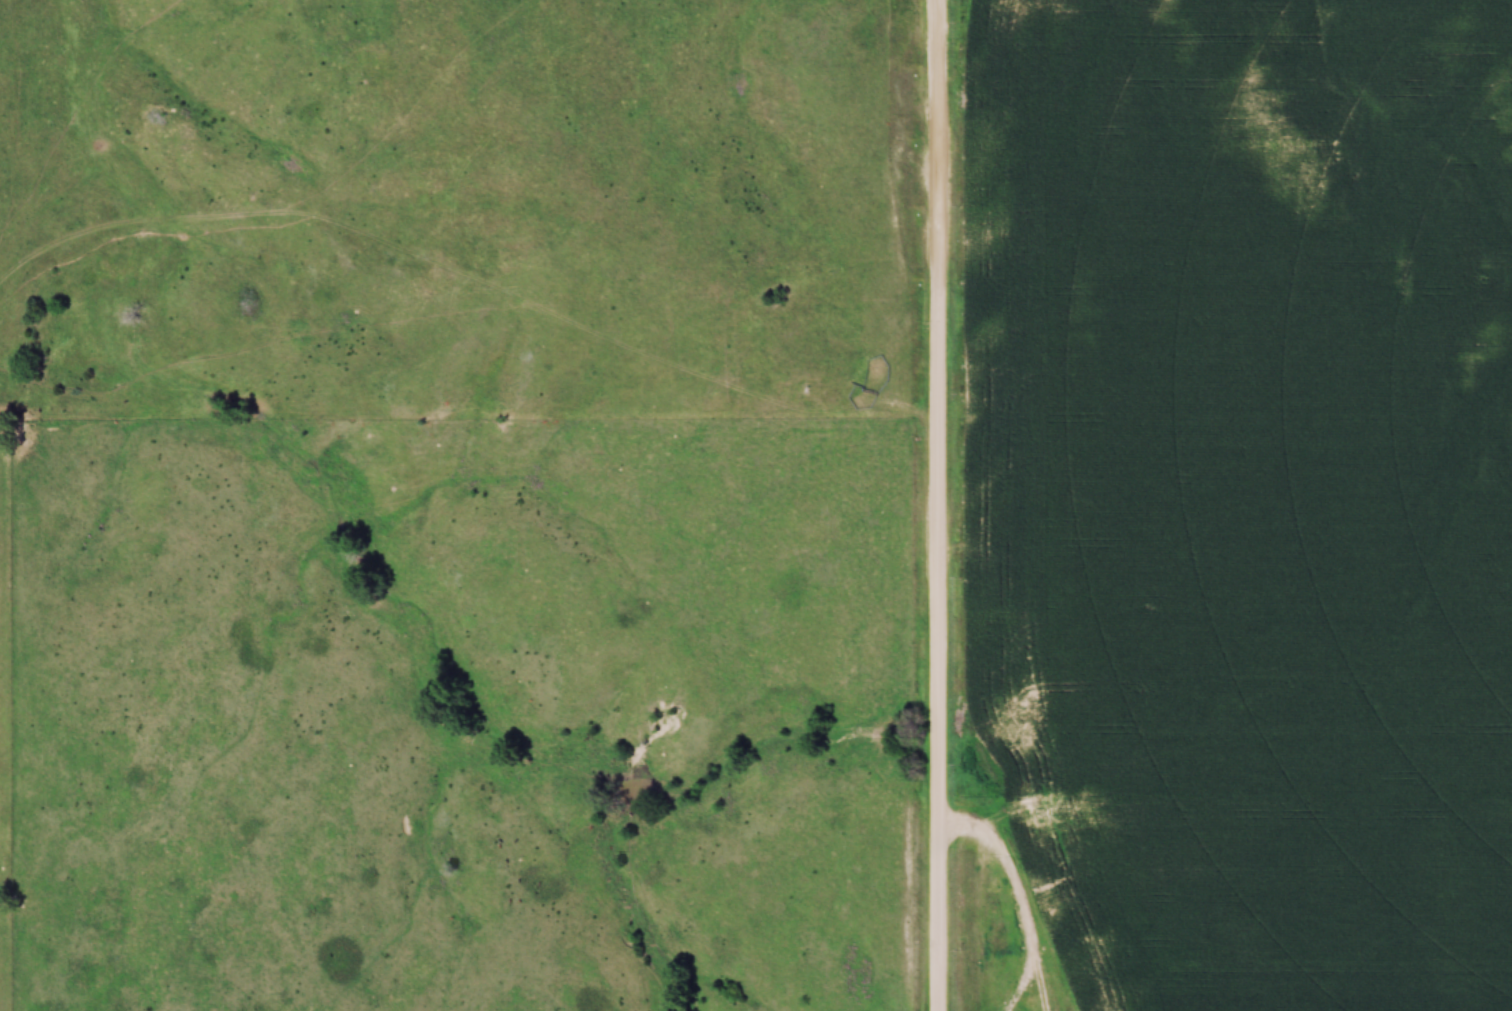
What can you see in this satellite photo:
road: (939, 505)

